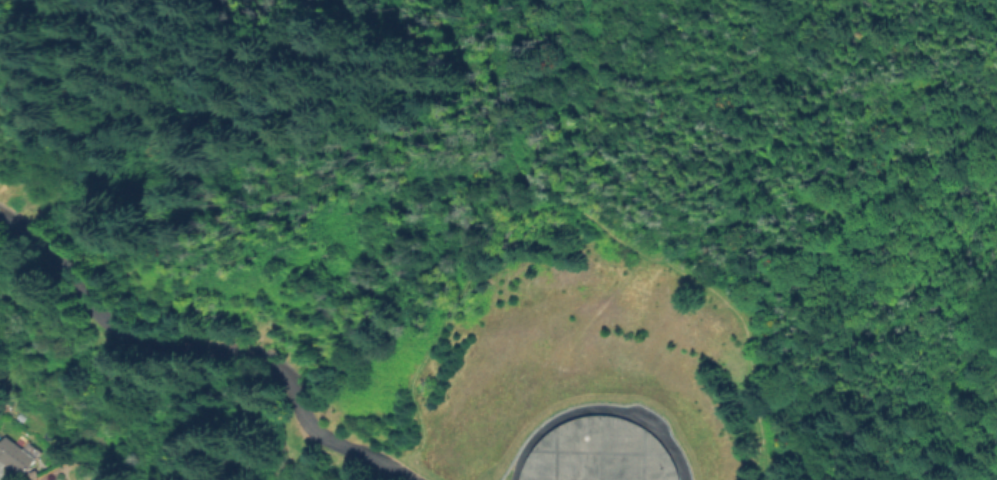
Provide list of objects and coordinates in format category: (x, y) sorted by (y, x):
road: (488, 93)
road: (689, 138)
road: (541, 207)
road: (6, 221)
road: (204, 348)
road: (599, 411)
building: (611, 450)
rooftop solar panel: (29, 451)
building: (17, 454)
road: (749, 456)

